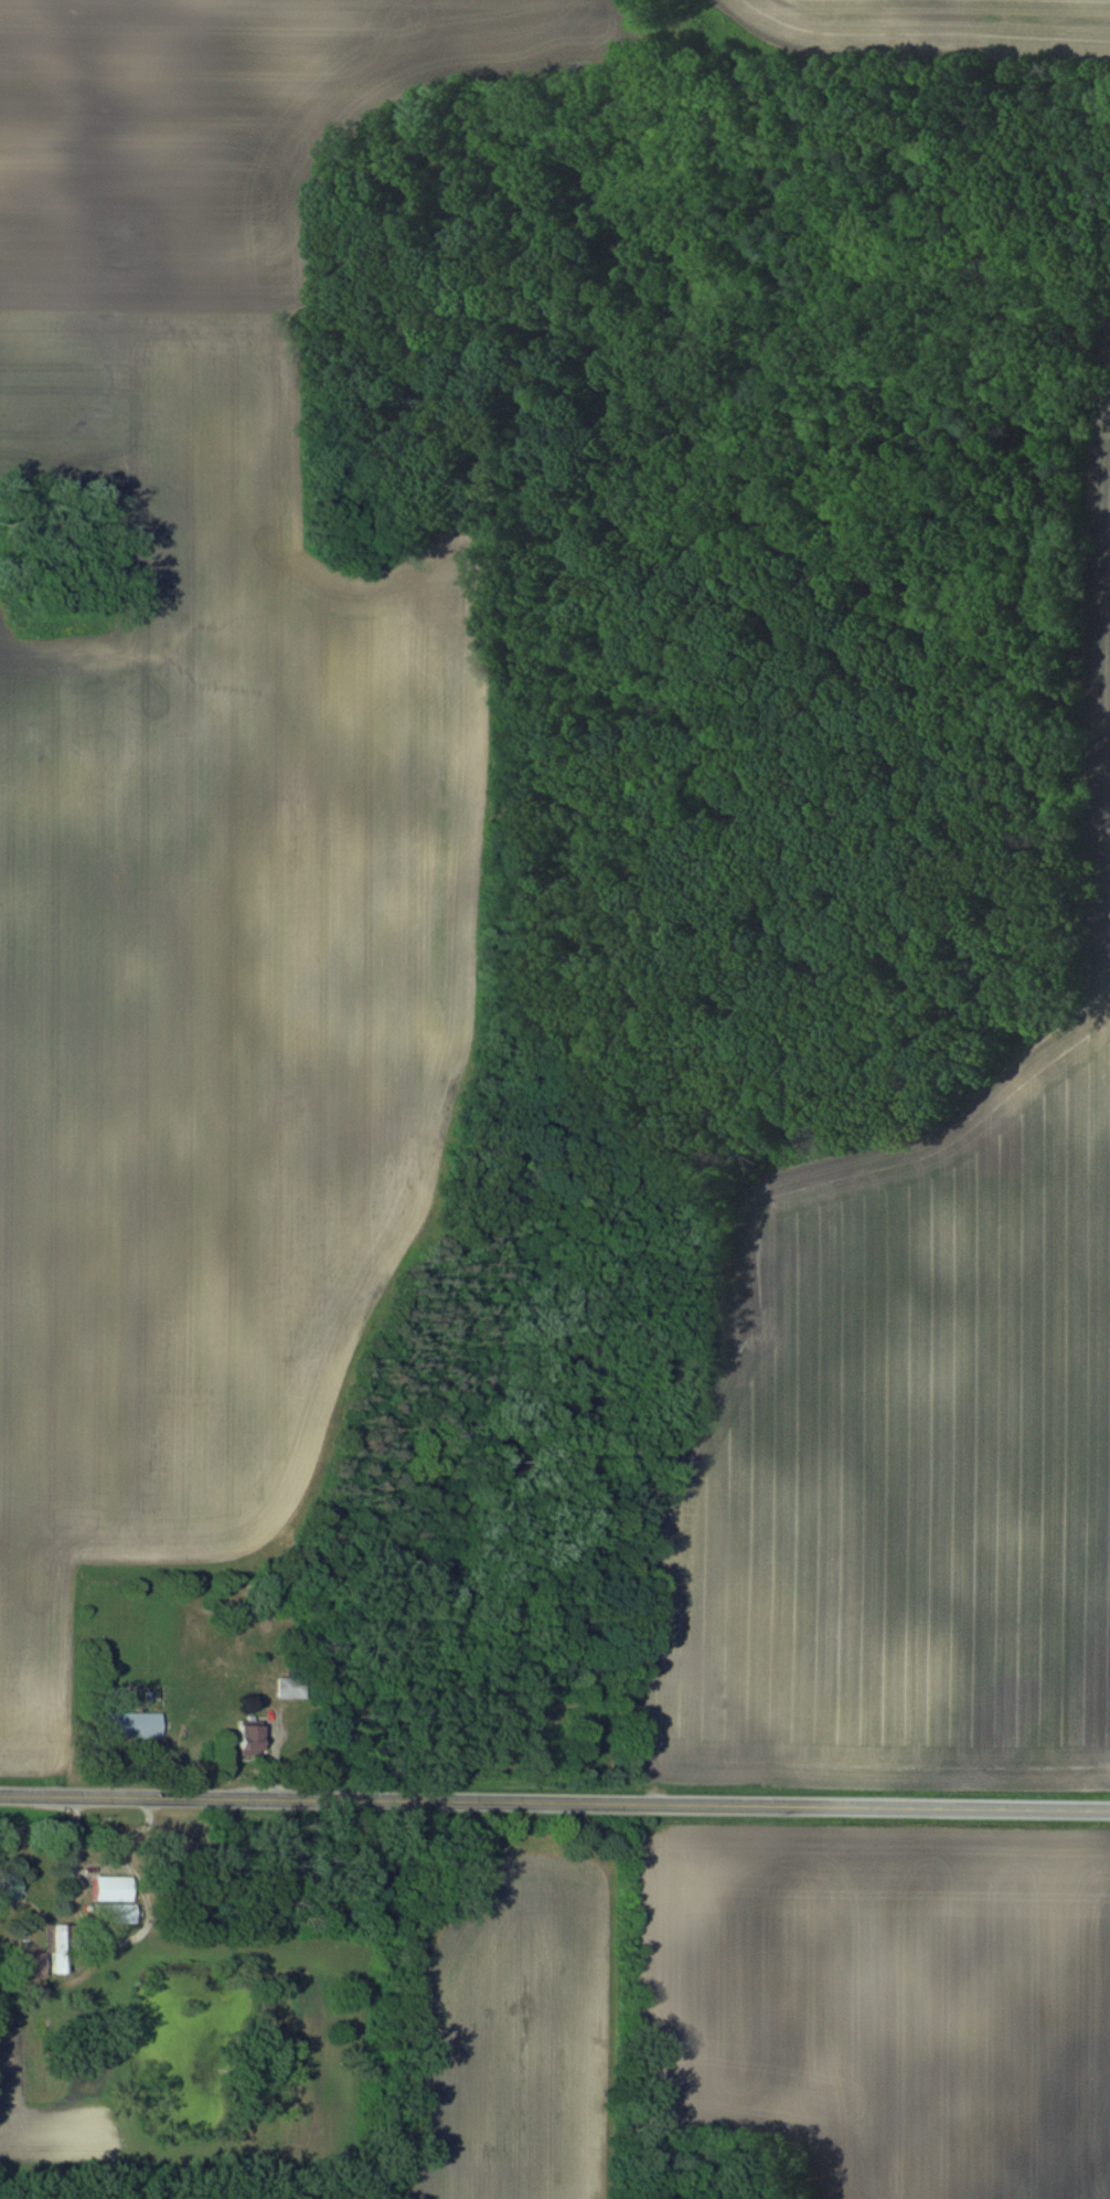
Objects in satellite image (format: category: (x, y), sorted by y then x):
building: (284, 1687)
building: (137, 1725)
building: (254, 1740)
road: (555, 1802)
building: (115, 1888)
building: (117, 1913)
building: (61, 1950)
building: (41, 2025)

